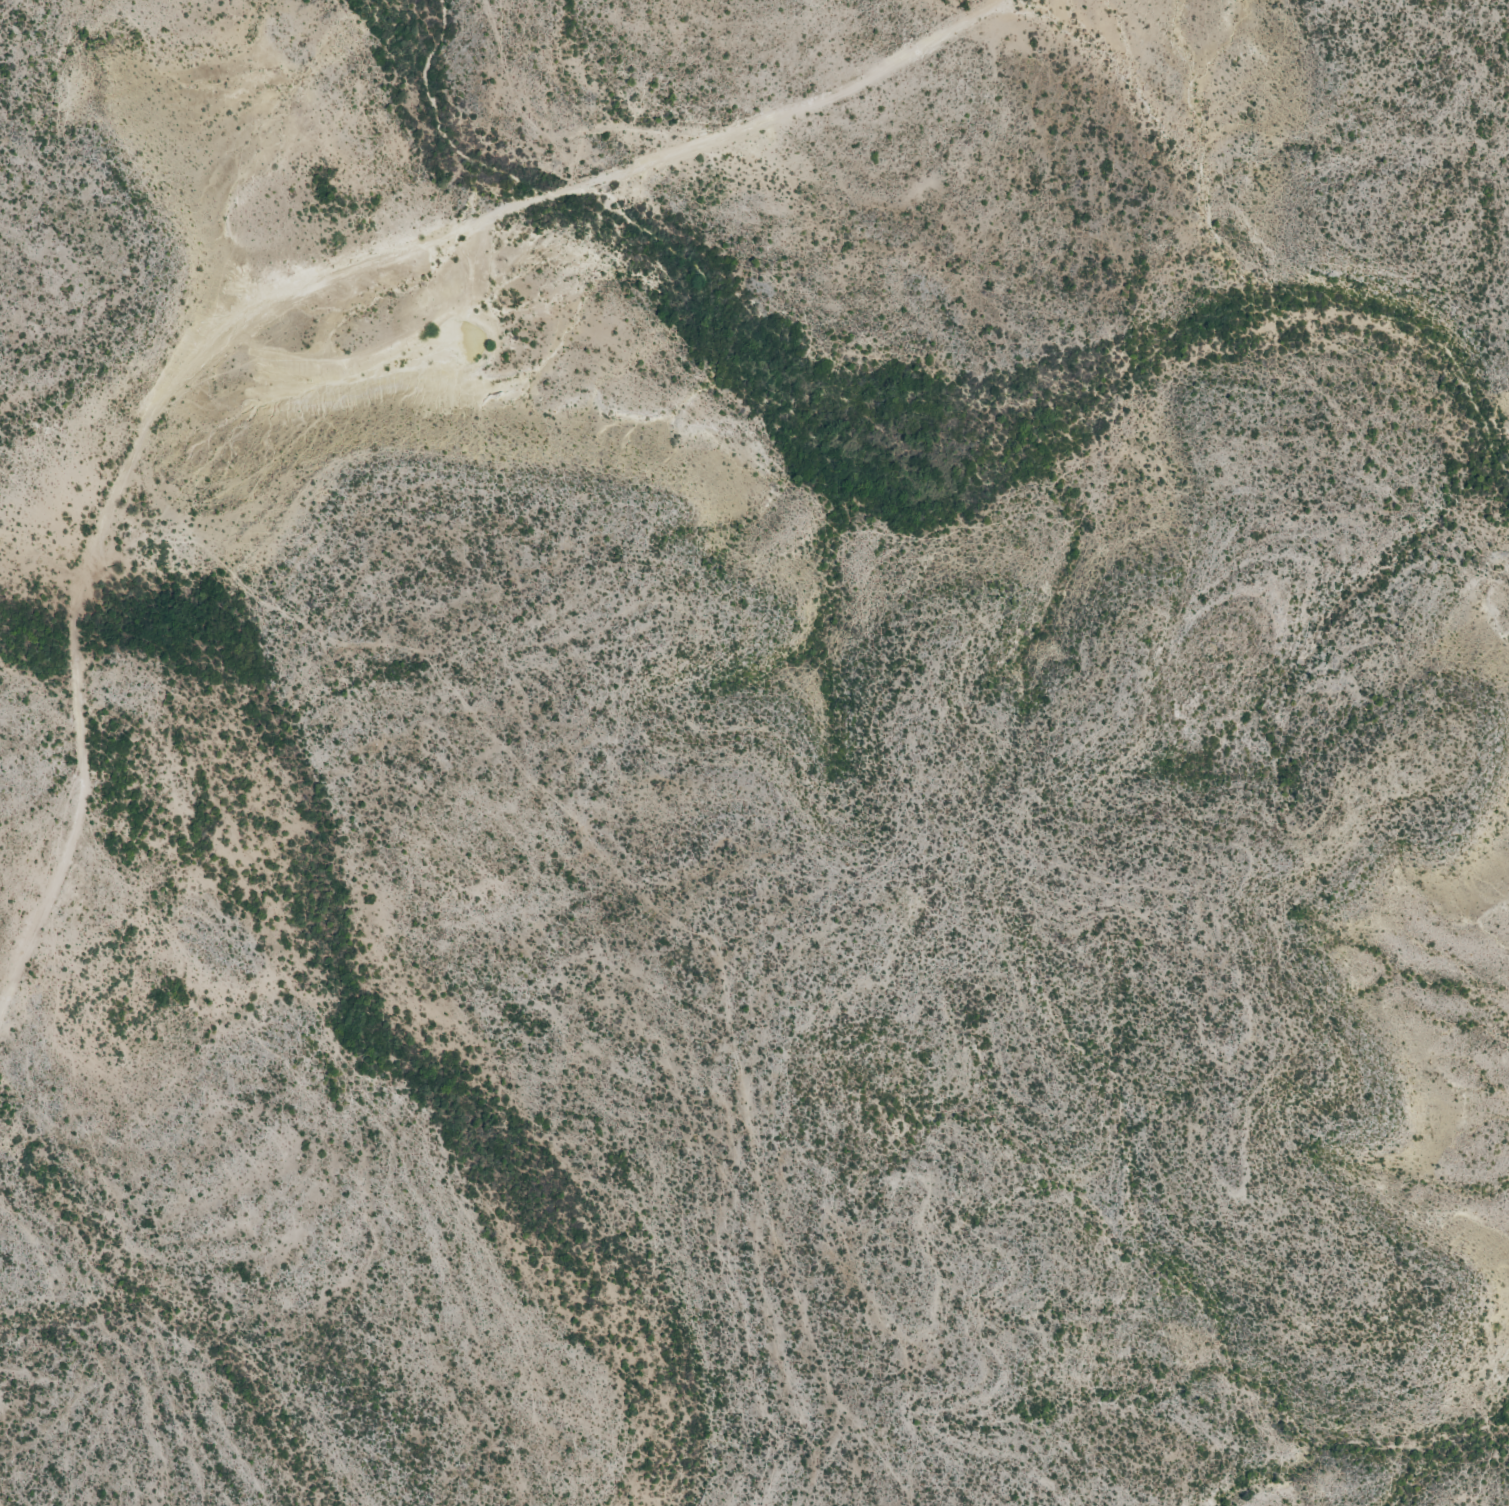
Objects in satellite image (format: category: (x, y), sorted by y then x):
road: (275, 312)

